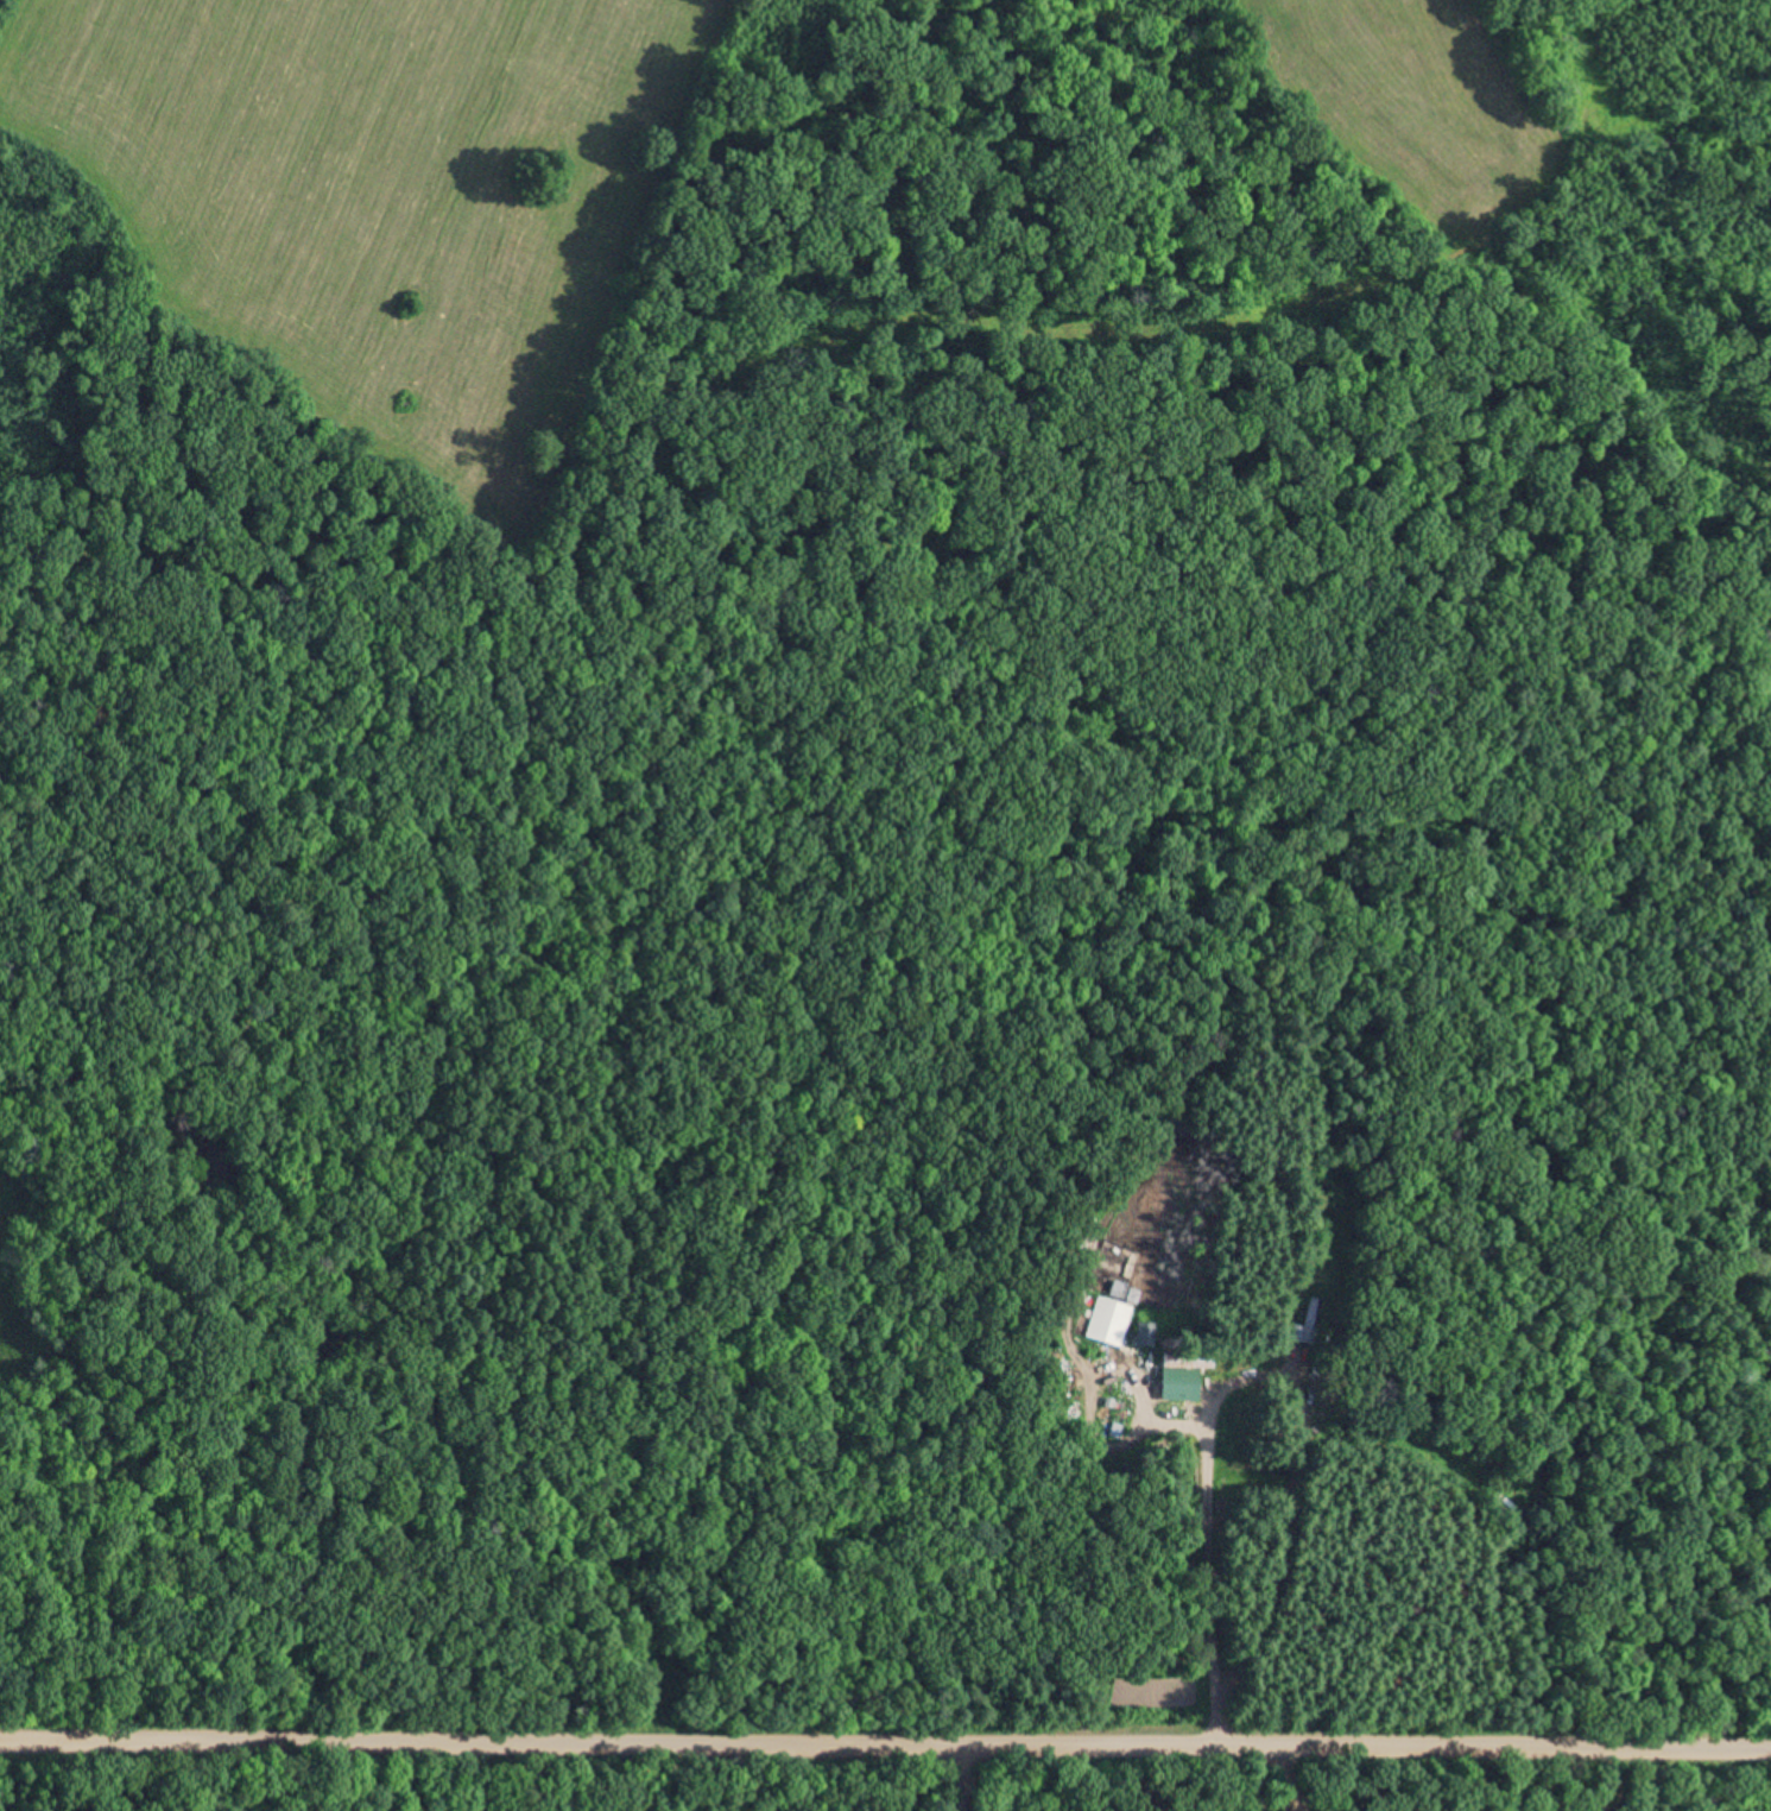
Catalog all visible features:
building: (1303, 1320)
building: (1109, 1324)
building: (1144, 1332)
building: (1188, 1363)
road: (885, 1749)
road: (11, 1777)

